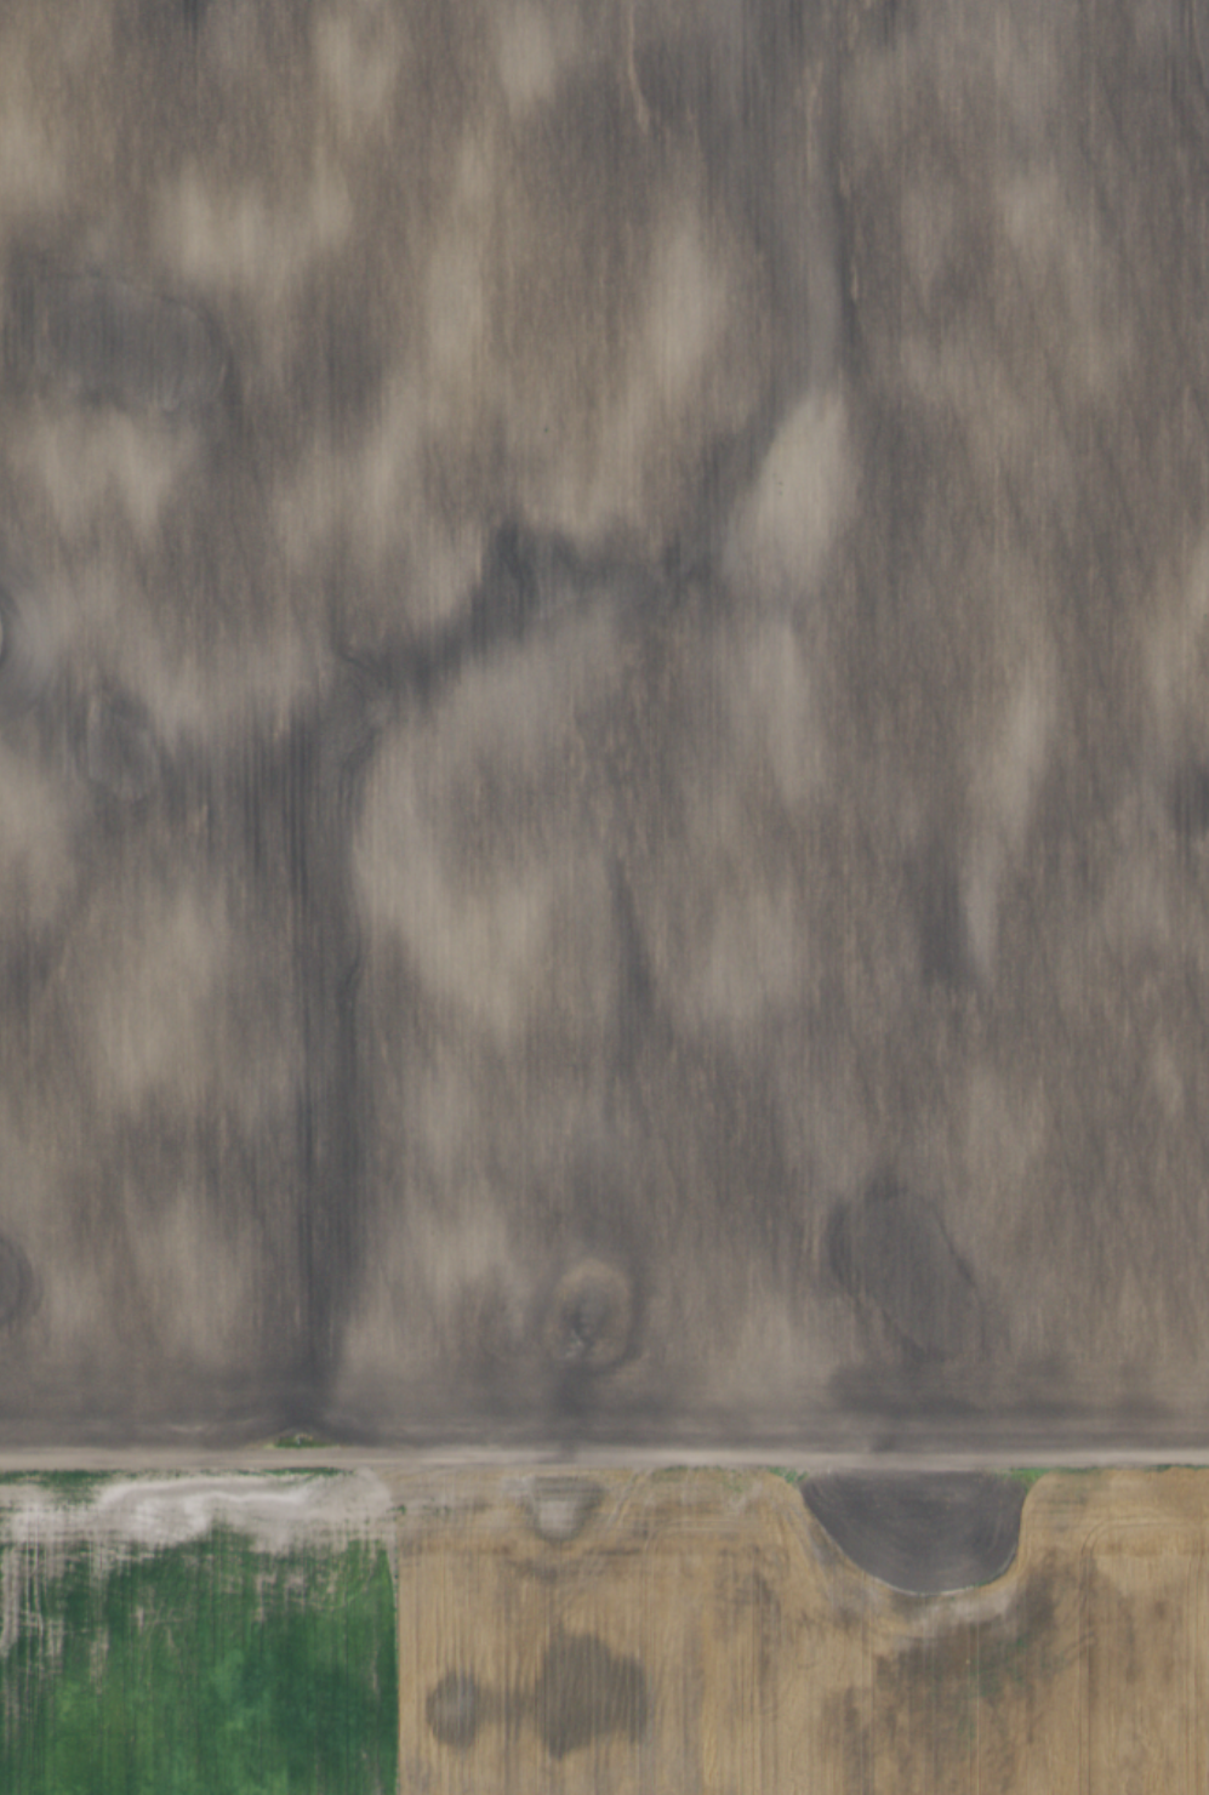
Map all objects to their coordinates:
road: (604, 1449)

